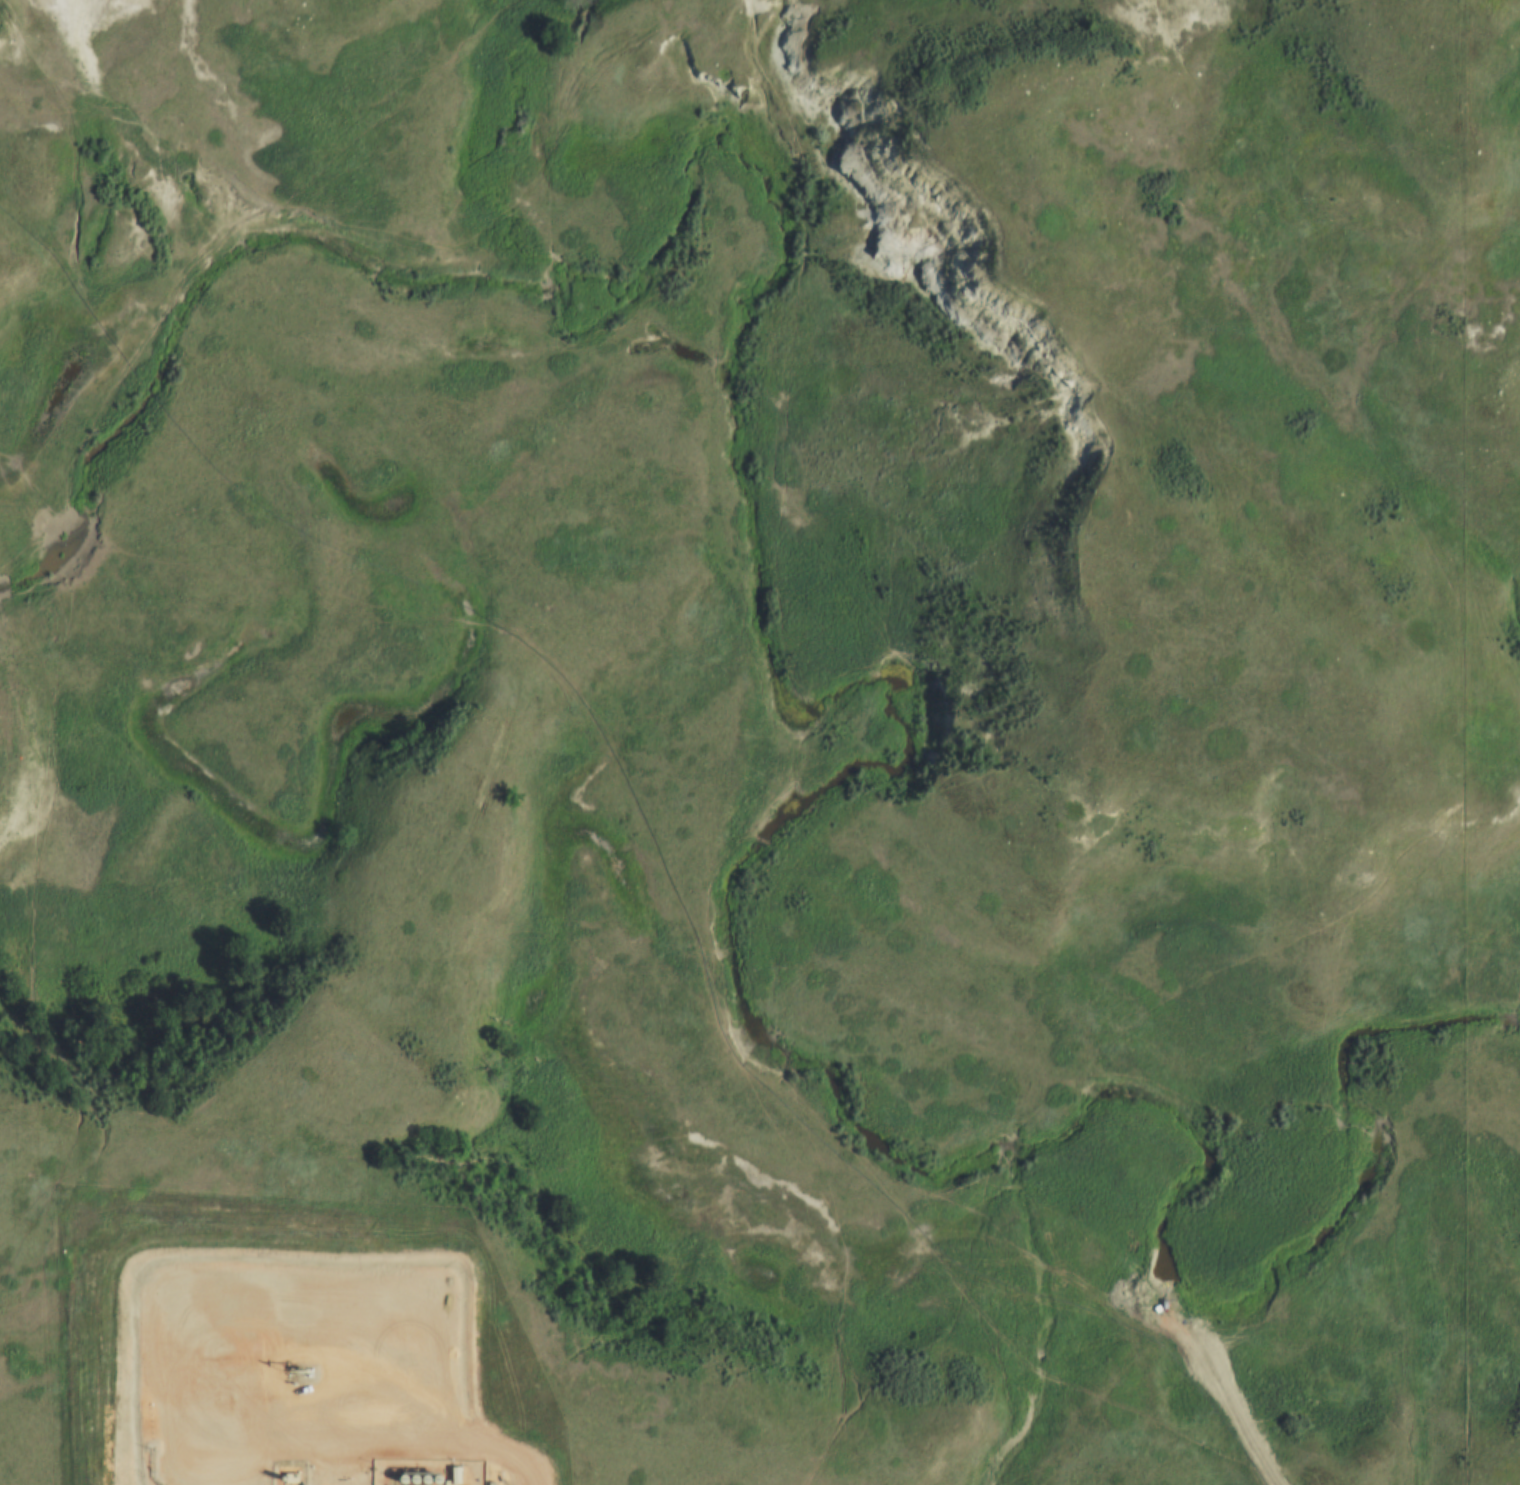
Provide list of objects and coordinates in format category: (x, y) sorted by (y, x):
petroleum well: (293, 1366)
road: (514, 1452)
building: (389, 1479)
storage tank: (389, 1479)
building: (401, 1479)
storage tank: (401, 1479)
building: (411, 1480)
storage tank: (411, 1480)
building: (422, 1481)
storage tank: (422, 1481)
building: (435, 1481)
storage tank: (435, 1481)

